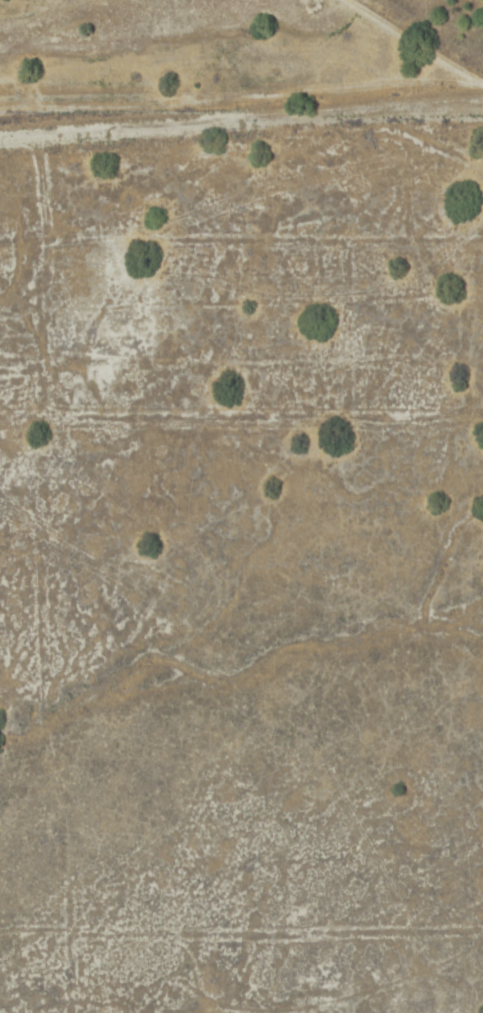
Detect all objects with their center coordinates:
road: (241, 110)

